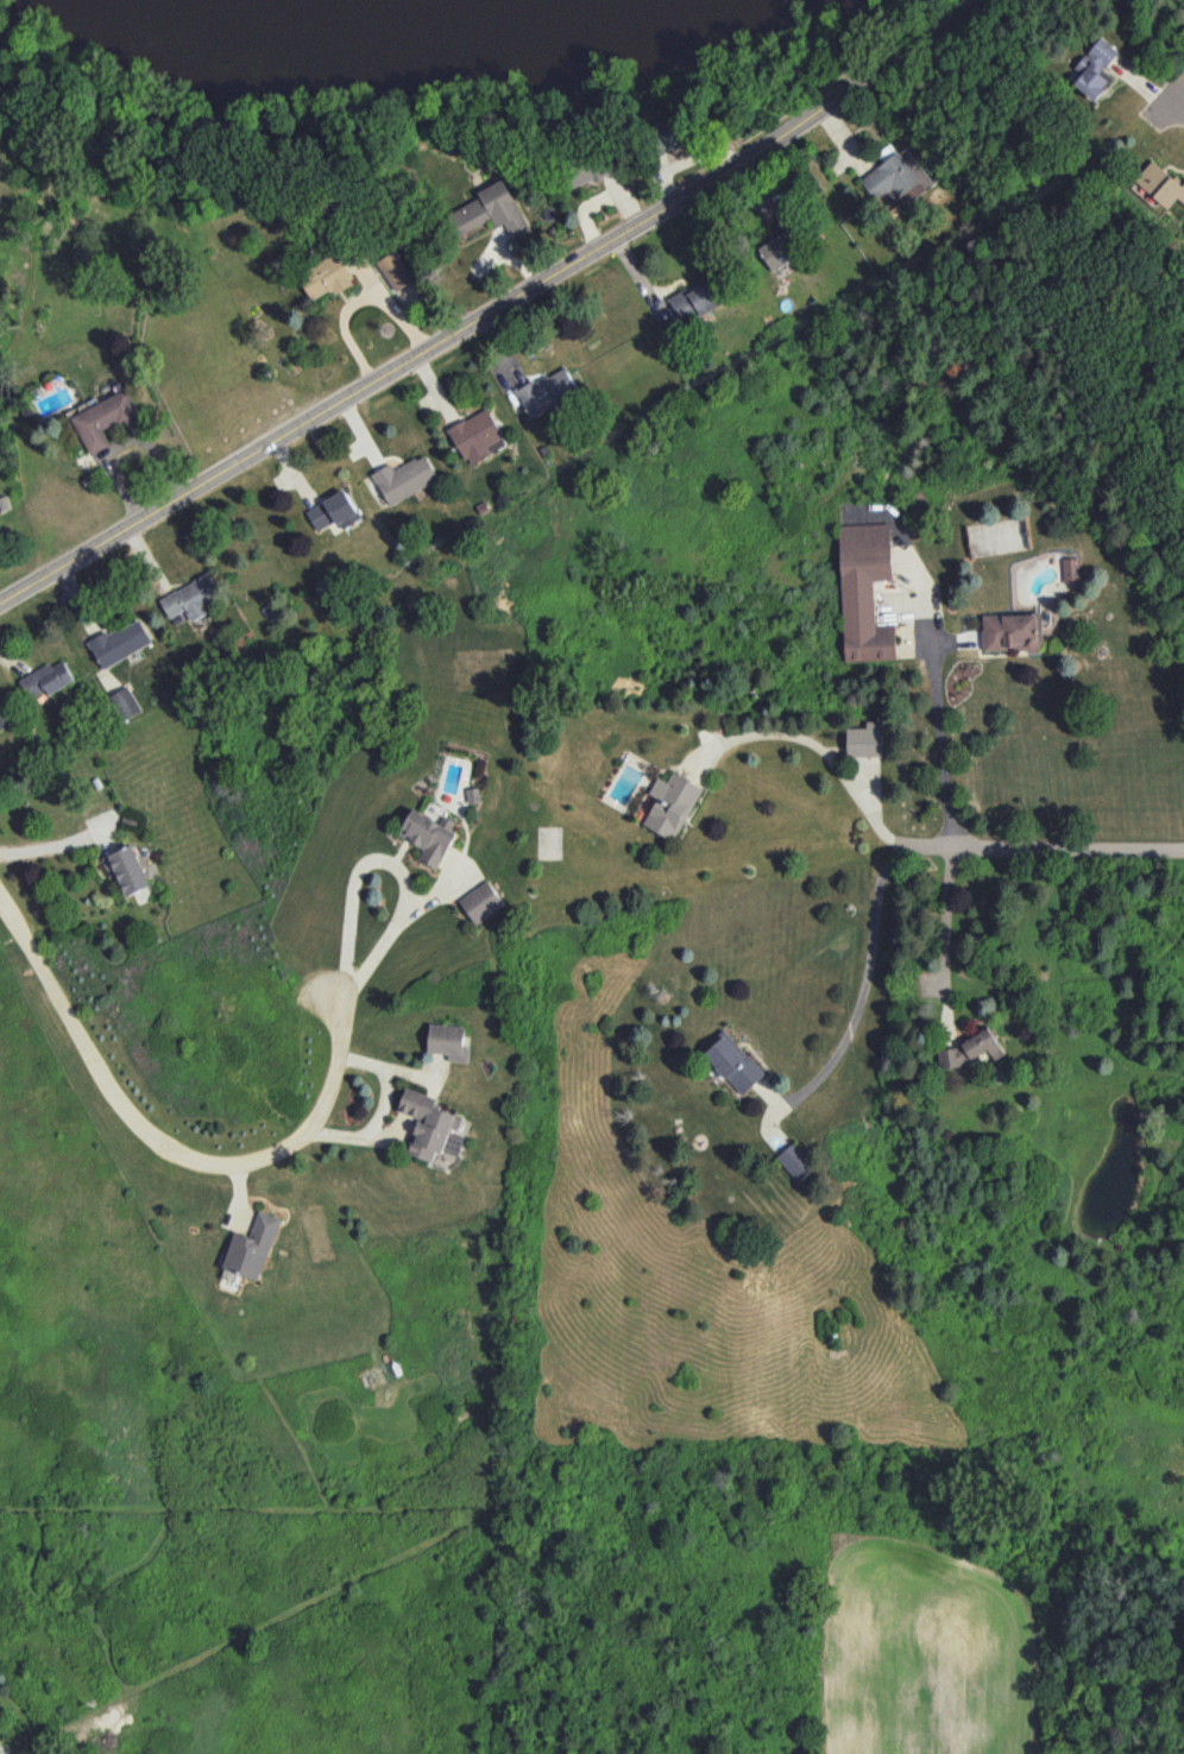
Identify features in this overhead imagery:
river: (382, 34)
building: (1096, 69)
road: (1173, 94)
building: (668, 132)
building: (591, 170)
building: (898, 178)
building: (1160, 183)
building: (492, 210)
building: (781, 248)
building: (395, 270)
building: (327, 277)
road: (355, 299)
building: (695, 299)
road: (493, 316)
building: (547, 391)
building: (103, 419)
building: (478, 435)
building: (404, 478)
building: (333, 511)
building: (991, 536)
building: (1071, 569)
building: (865, 591)
building: (190, 599)
building: (1012, 631)
building: (120, 642)
building: (46, 679)
building: (125, 704)
building: (4, 717)
building: (865, 739)
road: (815, 743)
road: (943, 746)
building: (670, 803)
building: (429, 835)
road: (1037, 852)
road: (396, 866)
building: (127, 869)
building: (481, 902)
road: (944, 941)
road: (864, 992)
building: (448, 1041)
building: (971, 1048)
building: (733, 1062)
road: (378, 1105)
building: (430, 1125)
road: (166, 1148)
building: (795, 1161)
building: (252, 1247)
crop: (925, 1657)

